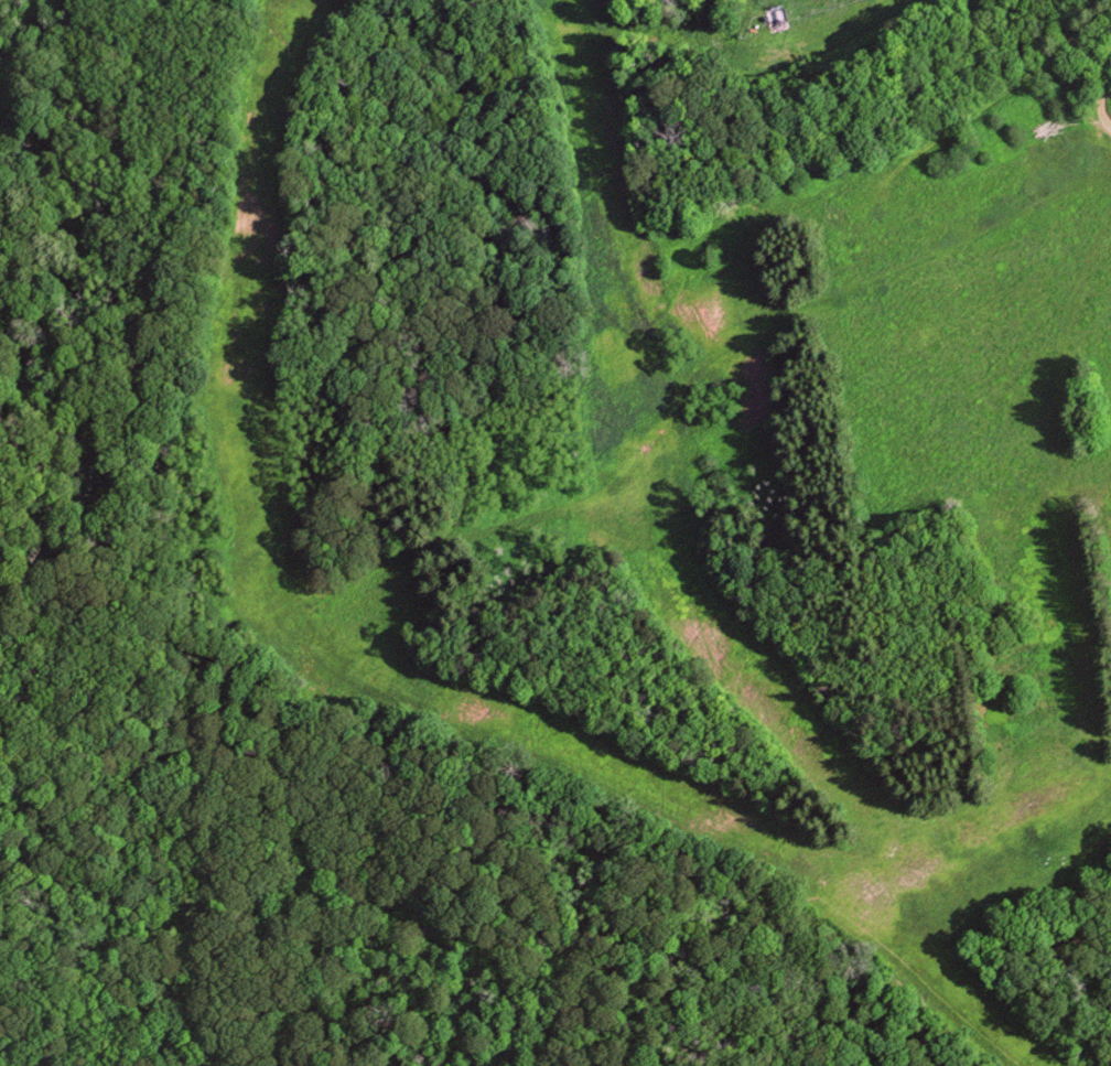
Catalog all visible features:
ski resort: (648, 453)
road: (756, 919)

